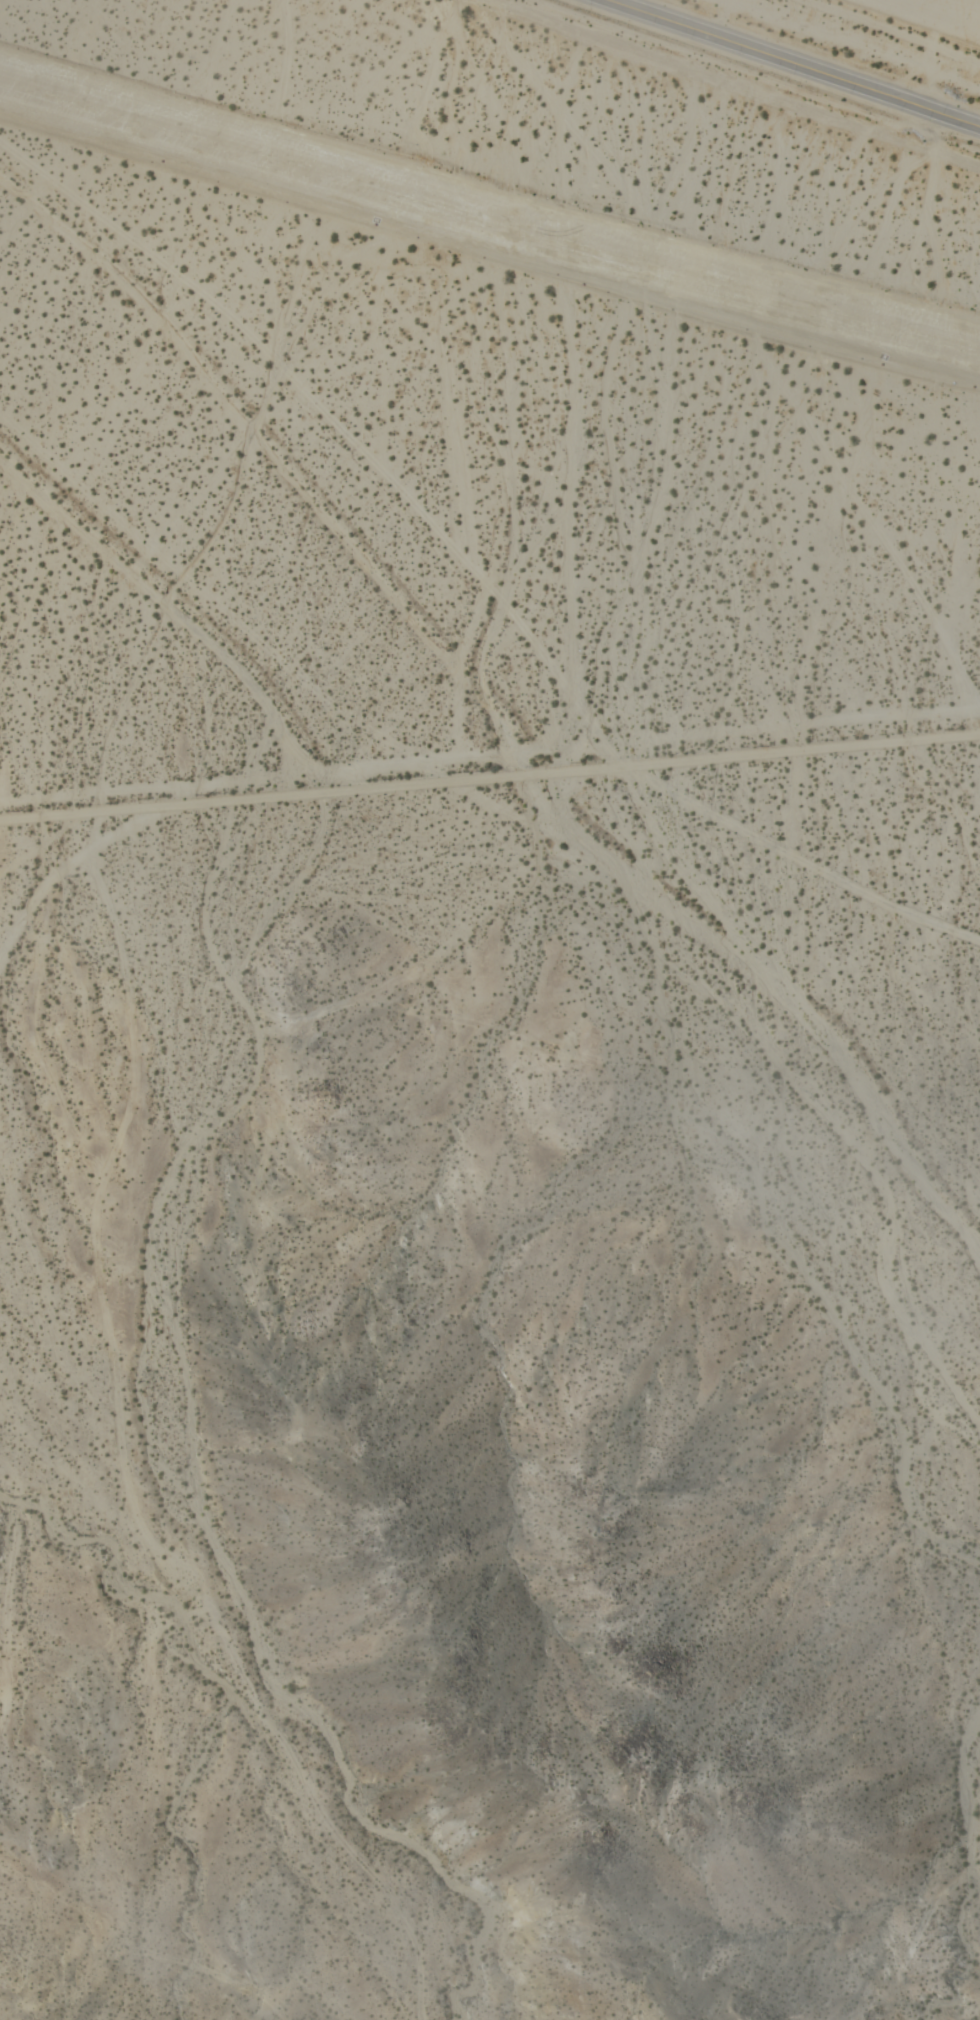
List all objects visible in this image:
road: (789, 63)
road: (730, 83)
airport apron: (489, 210)
airport: (519, 389)
airport apron: (971, 501)
road: (490, 777)

